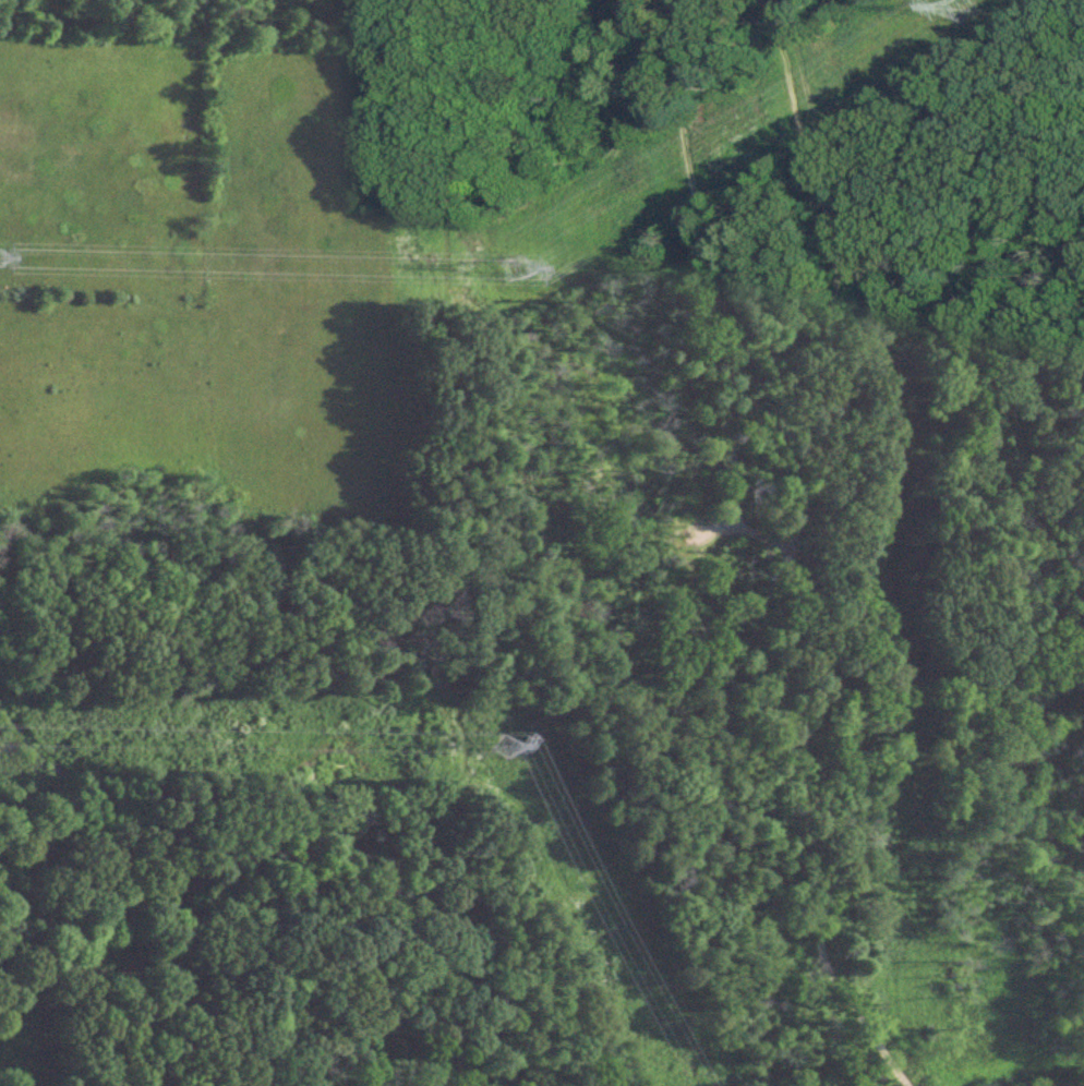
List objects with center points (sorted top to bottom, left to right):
power tower: (971, 9)
power tower: (510, 269)
power tower: (506, 746)

